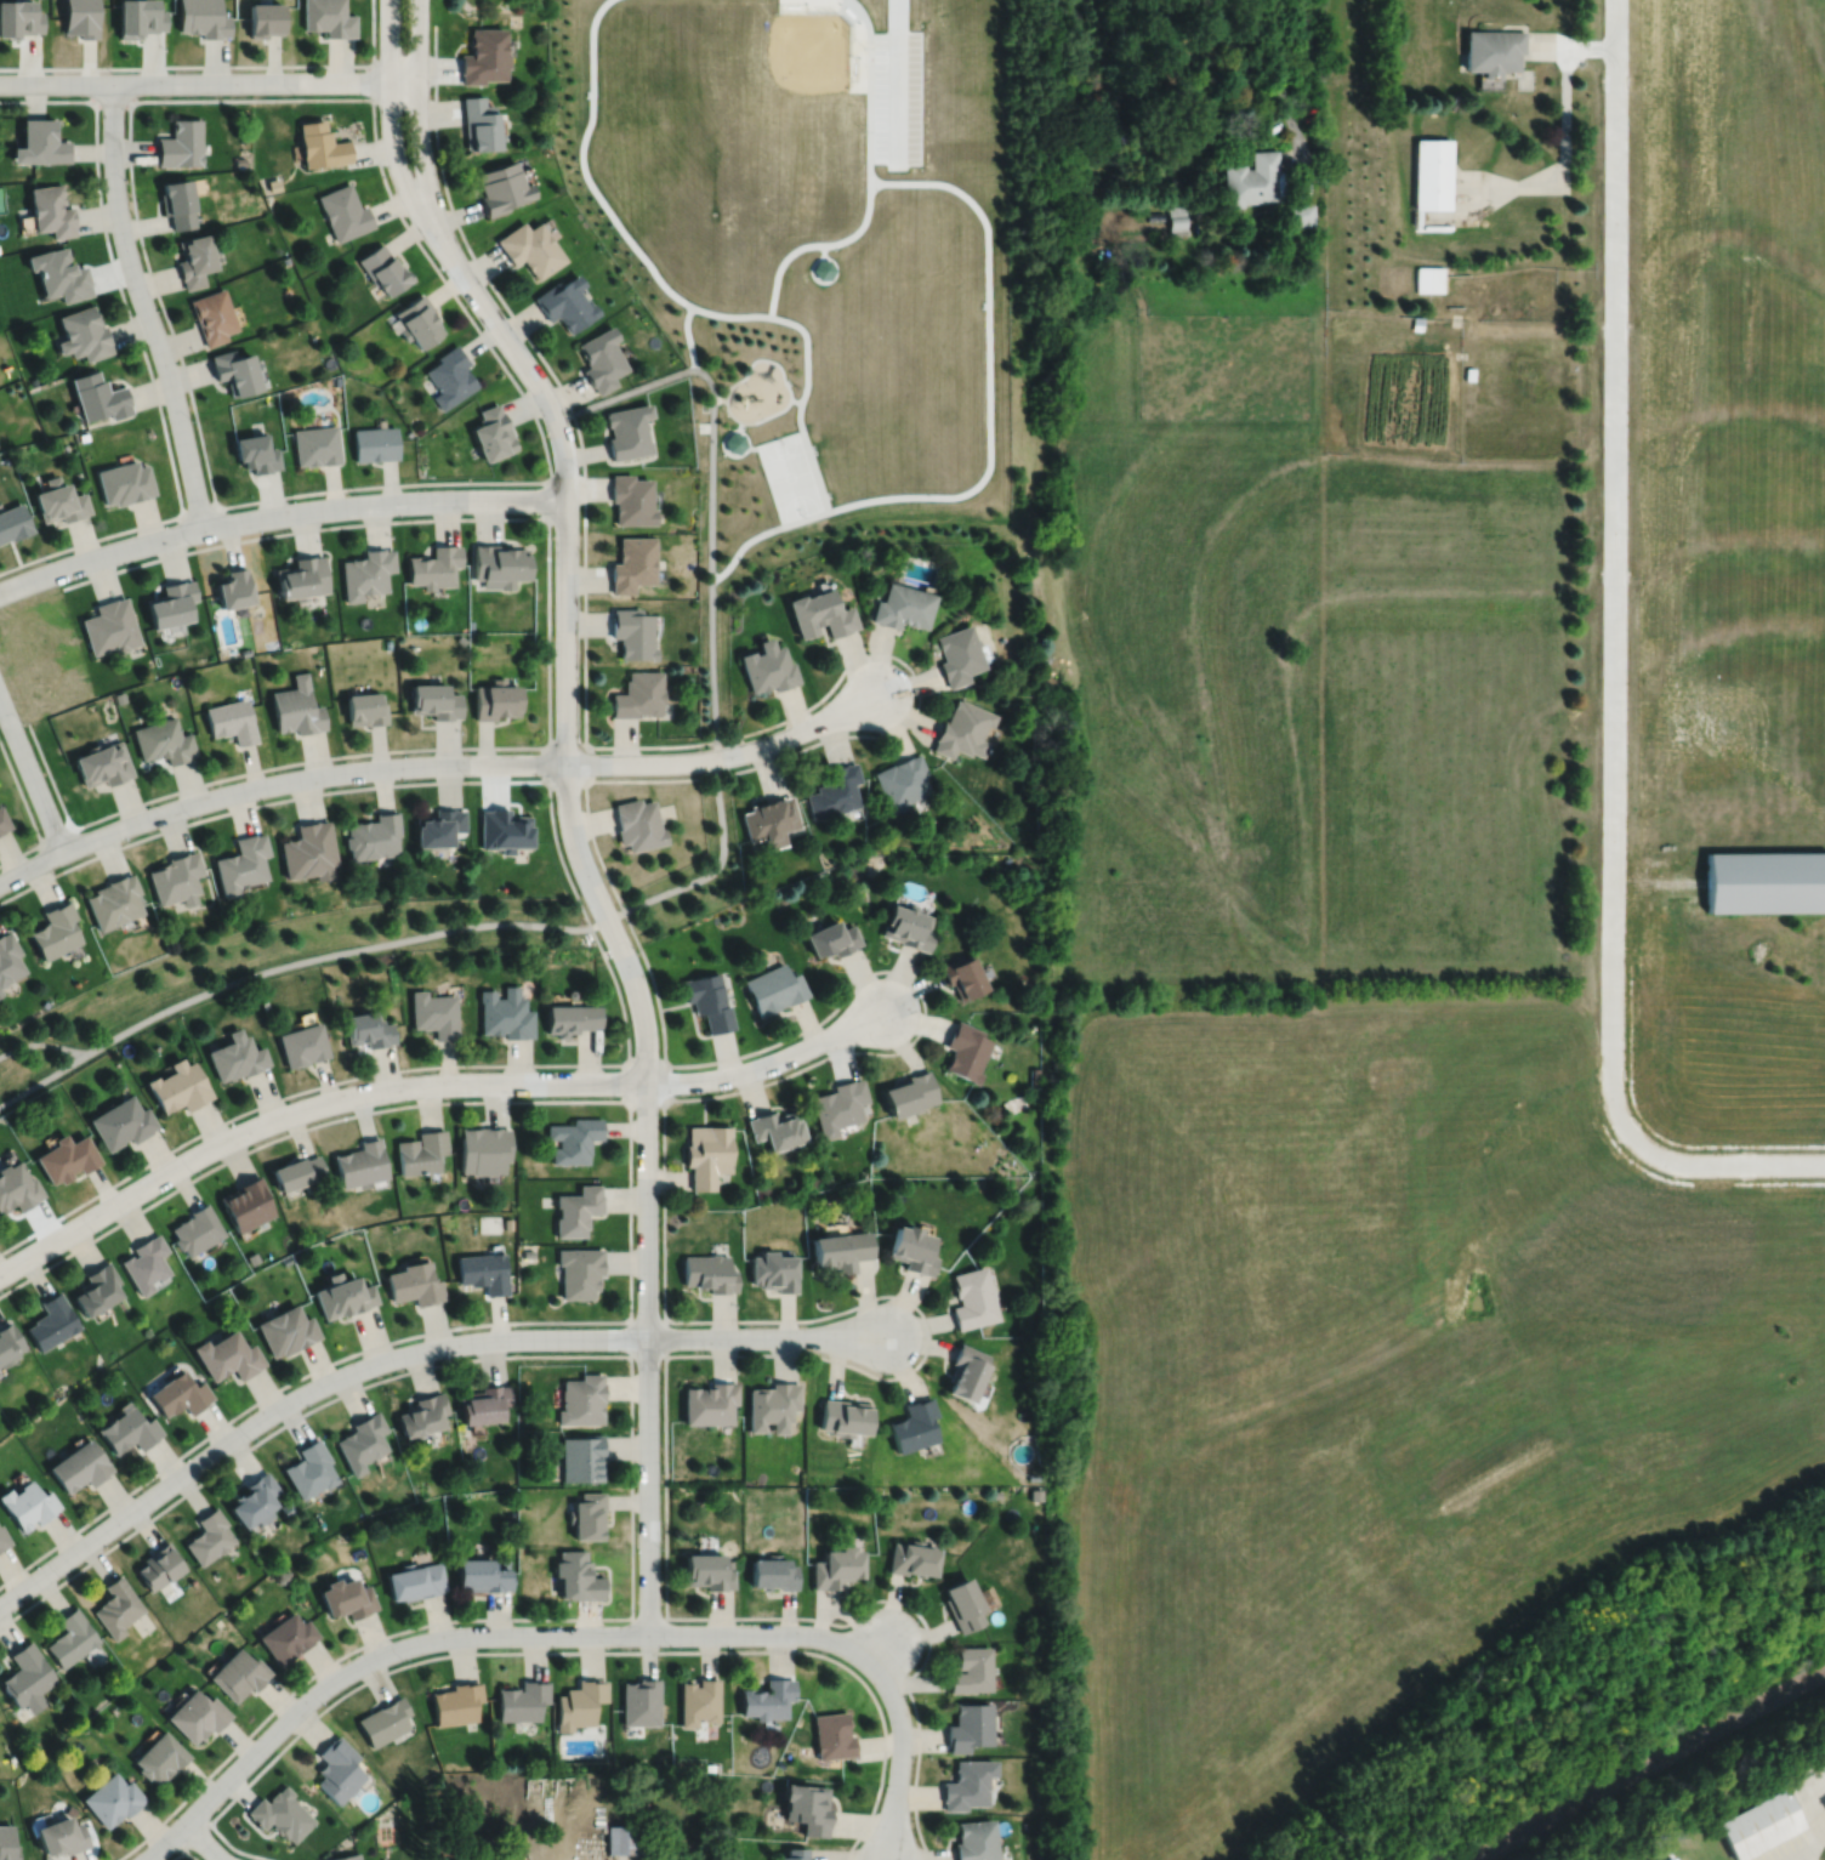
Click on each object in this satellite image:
building: (330, 16)
building: (19, 17)
building: (80, 17)
building: (141, 17)
building: (204, 17)
building: (266, 17)
building: (1494, 49)
building: (483, 55)
road: (217, 64)
road: (894, 78)
road: (373, 80)
road: (209, 81)
road: (1279, 91)
road: (1565, 93)
road: (112, 99)
road: (417, 108)
road: (388, 113)
building: (478, 123)
building: (40, 141)
building: (180, 142)
building: (322, 143)
building: (1432, 172)
building: (1252, 178)
building: (273, 183)
building: (501, 187)
building: (177, 201)
building: (51, 210)
building: (343, 211)
building: (1300, 212)
building: (1177, 218)
building: (530, 246)
building: (285, 258)
building: (194, 260)
building: (383, 268)
building: (58, 274)
building: (1428, 278)
building: (565, 303)
road: (144, 306)
building: (212, 315)
building: (419, 322)
building: (84, 334)
road: (143, 353)
building: (601, 359)
building: (235, 371)
park: (744, 375)
building: (450, 376)
building: (33, 380)
building: (336, 380)
road: (729, 383)
road: (801, 391)
building: (100, 397)
road: (718, 397)
road: (794, 399)
road: (1611, 416)
building: (629, 431)
building: (494, 433)
road: (744, 433)
building: (83, 436)
building: (733, 440)
building: (375, 444)
building: (315, 445)
road: (722, 446)
building: (256, 453)
park: (788, 474)
building: (125, 483)
road: (711, 484)
road: (260, 497)
road: (547, 499)
building: (632, 500)
building: (59, 501)
road: (199, 508)
road: (277, 513)
building: (13, 523)
building: (632, 564)
building: (501, 565)
building: (434, 568)
building: (366, 574)
building: (302, 579)
building: (233, 591)
building: (902, 603)
building: (171, 605)
building: (818, 610)
building: (109, 627)
building: (632, 630)
building: (460, 637)
building: (386, 642)
building: (244, 650)
building: (957, 652)
building: (766, 664)
road: (547, 686)
building: (638, 692)
building: (118, 695)
building: (495, 696)
building: (433, 698)
building: (294, 705)
building: (364, 705)
building: (229, 718)
building: (962, 727)
building: (160, 738)
road: (548, 745)
road: (727, 755)
building: (100, 762)
road: (30, 775)
building: (902, 780)
road: (274, 783)
building: (834, 789)
road: (28, 813)
building: (768, 818)
building: (2, 819)
building: (637, 821)
building: (438, 825)
building: (504, 827)
building: (373, 834)
road: (56, 835)
building: (308, 848)
building: (1005, 858)
building: (240, 861)
building: (175, 876)
building: (1764, 878)
building: (112, 899)
road: (601, 906)
building: (906, 925)
road: (450, 927)
building: (52, 928)
building: (830, 937)
building: (7, 956)
road: (608, 967)
building: (961, 974)
building: (772, 986)
building: (0, 992)
building: (570, 992)
road: (1609, 992)
road: (842, 999)
building: (706, 1000)
building: (433, 1012)
building: (505, 1012)
building: (570, 1017)
building: (366, 1028)
building: (301, 1043)
building: (965, 1050)
road: (75, 1056)
building: (234, 1056)
road: (627, 1063)
road: (768, 1063)
building: (1034, 1075)
building: (177, 1086)
building: (908, 1093)
building: (837, 1105)
road: (302, 1108)
building: (119, 1121)
building: (774, 1127)
building: (573, 1138)
building: (482, 1149)
building: (421, 1151)
building: (705, 1153)
building: (66, 1156)
building: (360, 1162)
road: (1730, 1162)
building: (296, 1172)
building: (17, 1187)
building: (245, 1202)
building: (576, 1210)
building: (507, 1223)
road: (629, 1224)
building: (1712, 1227)
building: (194, 1229)
building: (838, 1250)
building: (909, 1250)
building: (527, 1252)
building: (252, 1257)
building: (285, 1258)
building: (144, 1263)
building: (579, 1270)
building: (772, 1270)
building: (483, 1272)
building: (707, 1273)
building: (415, 1284)
building: (95, 1290)
building: (342, 1296)
building: (971, 1298)
building: (50, 1323)
building: (286, 1331)
road: (766, 1336)
building: (7, 1343)
road: (664, 1353)
building: (227, 1356)
building: (966, 1367)
building: (178, 1395)
road: (295, 1395)
building: (582, 1397)
building: (707, 1399)
building: (484, 1400)
building: (772, 1401)
building: (422, 1410)
building: (845, 1414)
building: (527, 1416)
building: (914, 1422)
building: (127, 1432)
road: (630, 1432)
building: (362, 1439)
building: (582, 1455)
building: (309, 1466)
building: (79, 1467)
building: (995, 1491)
building: (1035, 1491)
building: (254, 1497)
building: (27, 1506)
building: (286, 1506)
building: (589, 1512)
building: (209, 1534)
building: (2, 1540)
building: (914, 1555)
building: (158, 1563)
building: (836, 1564)
building: (706, 1568)
building: (773, 1570)
building: (483, 1571)
building: (579, 1574)
building: (283, 1575)
building: (416, 1579)
building: (347, 1594)
building: (963, 1602)
building: (116, 1605)
road: (648, 1616)
building: (288, 1634)
building: (70, 1636)
road: (423, 1640)
road: (565, 1650)
building: (971, 1667)
building: (238, 1672)
building: (27, 1676)
road: (896, 1696)
building: (768, 1697)
building: (522, 1699)
building: (700, 1699)
building: (641, 1700)
building: (455, 1701)
building: (579, 1701)
building: (195, 1713)
building: (383, 1719)
building: (970, 1724)
building: (834, 1734)
building: (159, 1756)
railway: (1645, 1764)
building: (336, 1768)
building: (967, 1782)
building: (113, 1797)
building: (1824, 1802)
building: (807, 1807)
building: (279, 1813)
building: (1756, 1821)
road: (1812, 1821)
building: (61, 1835)
road: (193, 1835)
building: (626, 1837)
building: (976, 1839)
road: (203, 1841)
building: (7, 1843)
road: (183, 1852)
building: (794, 1854)
building: (345, 1856)

